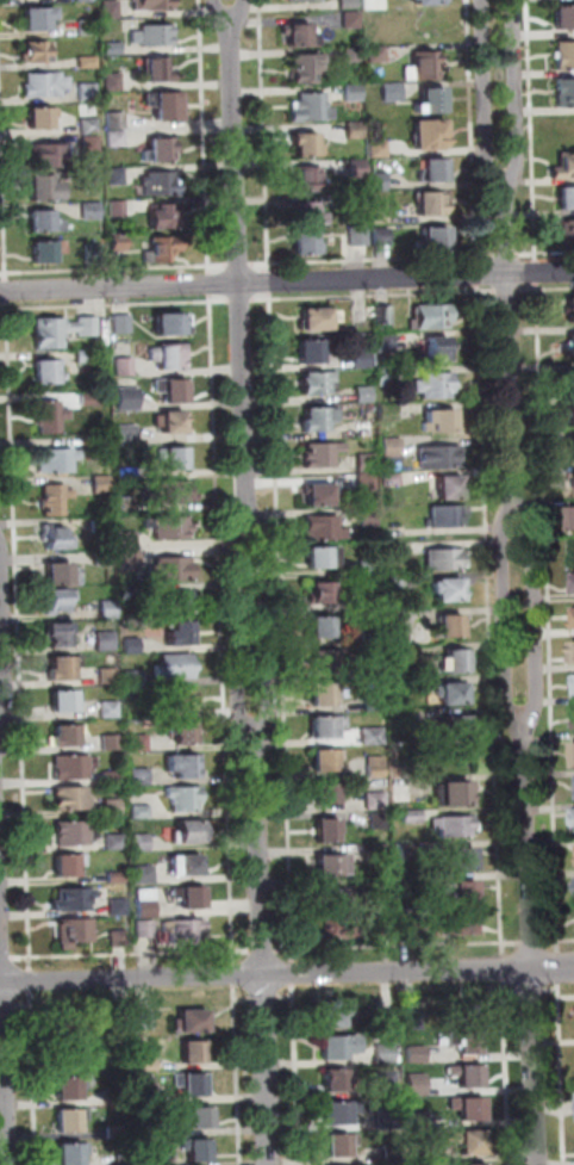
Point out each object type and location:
building: (85, 0)
building: (305, 0)
building: (428, 1)
building: (349, 4)
building: (154, 5)
road: (219, 7)
road: (238, 7)
building: (111, 10)
building: (564, 17)
building: (37, 18)
building: (351, 20)
building: (87, 27)
building: (157, 35)
building: (299, 36)
building: (113, 49)
building: (37, 51)
building: (352, 55)
building: (378, 55)
building: (566, 55)
building: (88, 62)
building: (424, 67)
building: (306, 68)
building: (160, 69)
building: (113, 82)
building: (44, 85)
building: (393, 91)
building: (88, 92)
building: (566, 92)
building: (354, 93)
building: (432, 101)
building: (170, 106)
building: (312, 107)
building: (40, 118)
building: (117, 120)
building: (89, 125)
building: (355, 130)
road: (531, 130)
road: (473, 131)
building: (430, 135)
road: (205, 136)
road: (264, 136)
building: (117, 140)
building: (92, 144)
building: (308, 144)
building: (379, 149)
building: (162, 150)
building: (46, 155)
building: (357, 167)
building: (564, 167)
building: (436, 169)
building: (91, 174)
building: (117, 176)
building: (308, 179)
building: (380, 181)
road: (503, 181)
building: (162, 184)
building: (46, 187)
road: (2, 194)
building: (567, 198)
building: (358, 202)
building: (432, 204)
building: (118, 209)
building: (92, 211)
building: (307, 213)
building: (381, 215)
building: (168, 217)
building: (46, 222)
building: (568, 229)
building: (360, 236)
building: (381, 236)
building: (436, 240)
building: (119, 242)
building: (307, 243)
building: (163, 249)
building: (49, 250)
road: (545, 253)
building: (95, 254)
road: (507, 255)
road: (382, 258)
road: (260, 264)
road: (219, 265)
road: (239, 265)
road: (104, 269)
road: (241, 269)
road: (537, 272)
road: (479, 274)
road: (287, 281)
road: (270, 283)
road: (210, 285)
road: (545, 289)
road: (6, 291)
road: (509, 291)
road: (375, 296)
road: (241, 300)
road: (119, 303)
road: (4, 309)
building: (572, 310)
building: (361, 315)
building: (383, 315)
building: (432, 317)
building: (319, 318)
building: (123, 324)
building: (173, 324)
building: (62, 330)
building: (386, 343)
building: (573, 345)
building: (438, 347)
road: (510, 349)
building: (316, 351)
building: (88, 357)
building: (170, 357)
building: (363, 359)
building: (125, 367)
building: (49, 373)
building: (386, 377)
building: (573, 382)
building: (317, 383)
building: (436, 385)
building: (174, 390)
building: (364, 395)
building: (91, 399)
building: (129, 399)
building: (389, 413)
building: (572, 414)
building: (51, 416)
building: (319, 420)
building: (442, 421)
building: (171, 422)
building: (364, 429)
building: (127, 435)
building: (572, 451)
building: (393, 453)
building: (323, 454)
building: (175, 458)
building: (441, 458)
building: (60, 460)
building: (367, 463)
building: (127, 475)
building: (393, 479)
building: (572, 482)
building: (367, 483)
building: (102, 484)
building: (451, 489)
building: (173, 492)
building: (319, 495)
building: (56, 500)
building: (126, 506)
building: (449, 516)
building: (572, 516)
building: (369, 518)
building: (102, 525)
building: (170, 527)
building: (324, 528)
building: (57, 539)
building: (129, 541)
building: (394, 550)
building: (324, 558)
building: (104, 559)
building: (445, 560)
building: (131, 562)
building: (369, 569)
building: (173, 570)
building: (62, 575)
building: (394, 587)
building: (449, 590)
building: (130, 593)
building: (324, 594)
building: (60, 601)
building: (176, 602)
building: (370, 603)
building: (110, 609)
road: (548, 612)
road: (505, 614)
road: (534, 614)
building: (573, 615)
road: (491, 621)
road: (267, 625)
road: (237, 626)
building: (453, 626)
road: (282, 627)
building: (323, 628)
road: (222, 630)
building: (61, 634)
road: (2, 636)
road: (19, 636)
building: (181, 636)
building: (370, 637)
building: (106, 640)
building: (132, 646)
building: (573, 651)
building: (398, 655)
building: (456, 662)
building: (331, 663)
building: (176, 668)
building: (63, 669)
building: (372, 670)
building: (108, 677)
building: (135, 678)
building: (573, 683)
building: (398, 688)
building: (455, 694)
building: (324, 696)
building: (183, 700)
building: (65, 702)
building: (374, 704)
building: (111, 709)
building: (407, 719)
building: (327, 727)
building: (458, 727)
building: (185, 733)
building: (68, 736)
building: (374, 737)
building: (112, 743)
building: (139, 743)
building: (327, 761)
building: (185, 767)
building: (71, 768)
building: (376, 768)
building: (112, 777)
building: (141, 777)
building: (405, 792)
building: (327, 795)
building: (454, 795)
building: (71, 800)
building: (186, 800)
building: (376, 801)
building: (114, 808)
building: (141, 812)
building: (412, 817)
building: (380, 822)
building: (455, 826)
building: (329, 831)
building: (192, 832)
building: (76, 834)
building: (116, 843)
building: (143, 843)
building: (406, 853)
building: (381, 855)
building: (464, 860)
building: (335, 866)
building: (70, 867)
building: (187, 867)
building: (145, 875)
building: (117, 878)
building: (381, 884)
building: (460, 894)
building: (194, 899)
building: (74, 900)
building: (330, 900)
building: (148, 904)
building: (119, 909)
building: (463, 925)
building: (385, 927)
building: (338, 929)
building: (408, 929)
building: (146, 930)
building: (186, 931)
building: (75, 932)
road: (529, 938)
building: (119, 940)
road: (561, 941)
road: (530, 942)
road: (550, 942)
road: (263, 946)
road: (398, 946)
road: (264, 950)
road: (132, 954)
road: (6, 959)
road: (560, 968)
road: (501, 969)
road: (286, 974)
road: (294, 974)
road: (235, 975)
road: (32, 981)
road: (553, 990)
road: (530, 991)
road: (510, 992)
road: (561, 996)
road: (287, 998)
road: (264, 999)
road: (243, 1000)
road: (23, 1006)
road: (6, 1008)
building: (337, 1016)
building: (464, 1018)
building: (145, 1021)
building: (412, 1021)
building: (193, 1022)
building: (386, 1022)
building: (123, 1027)
building: (76, 1033)
building: (462, 1042)
road: (5, 1046)
building: (341, 1048)
building: (195, 1053)
building: (386, 1054)
building: (416, 1055)
building: (150, 1066)
road: (504, 1073)
road: (298, 1074)
road: (237, 1076)
building: (468, 1077)
road: (35, 1078)
building: (338, 1082)
road: (563, 1082)
building: (386, 1084)
building: (416, 1084)
building: (193, 1085)
building: (69, 1090)
building: (151, 1096)
building: (123, 1097)
building: (469, 1110)
building: (341, 1115)
building: (196, 1117)
building: (387, 1118)
building: (71, 1121)
building: (419, 1121)
building: (151, 1129)
building: (116, 1132)
building: (468, 1144)
building: (341, 1147)
building: (199, 1151)
building: (74, 1154)
building: (392, 1154)
building: (419, 1154)
building: (158, 1158)
building: (125, 1160)
building: (472, 1164)

